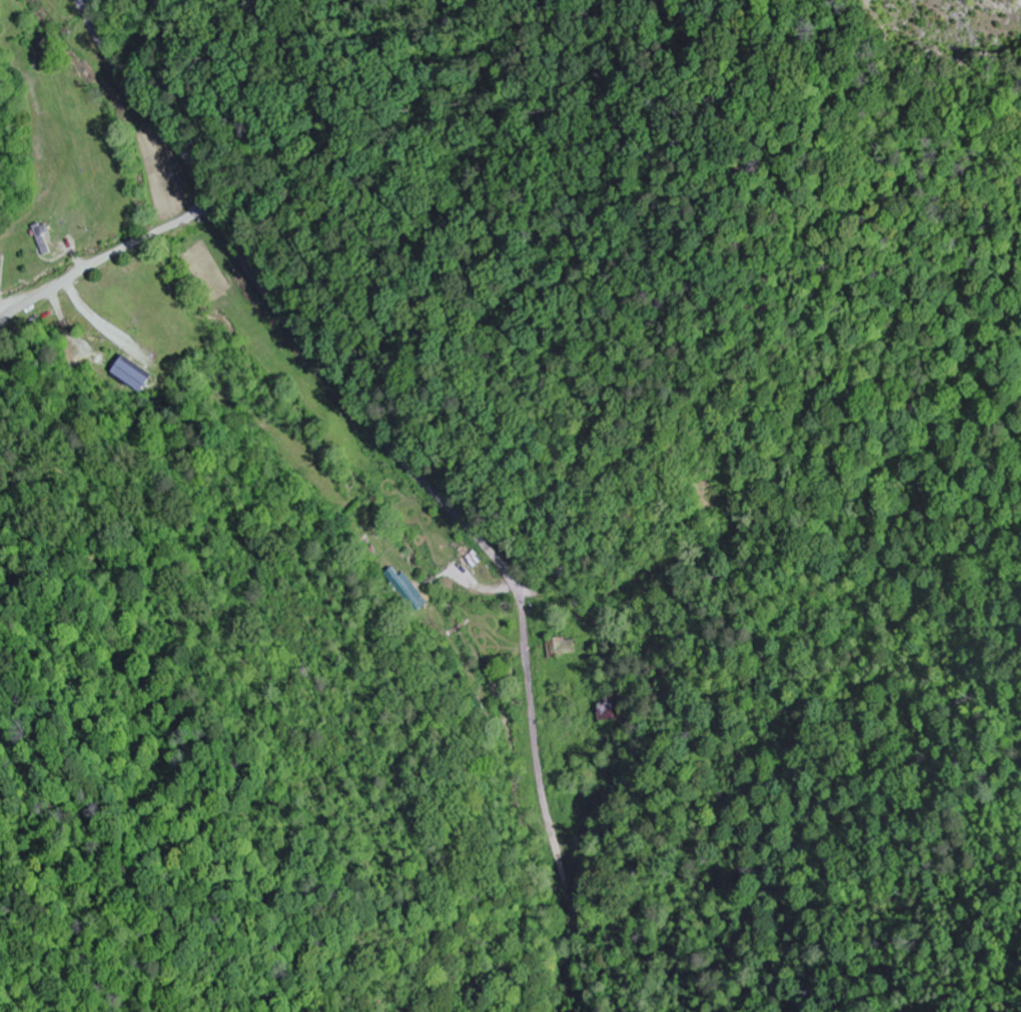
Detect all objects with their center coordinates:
building: (41, 239)
road: (102, 259)
road: (161, 344)
road: (366, 412)

